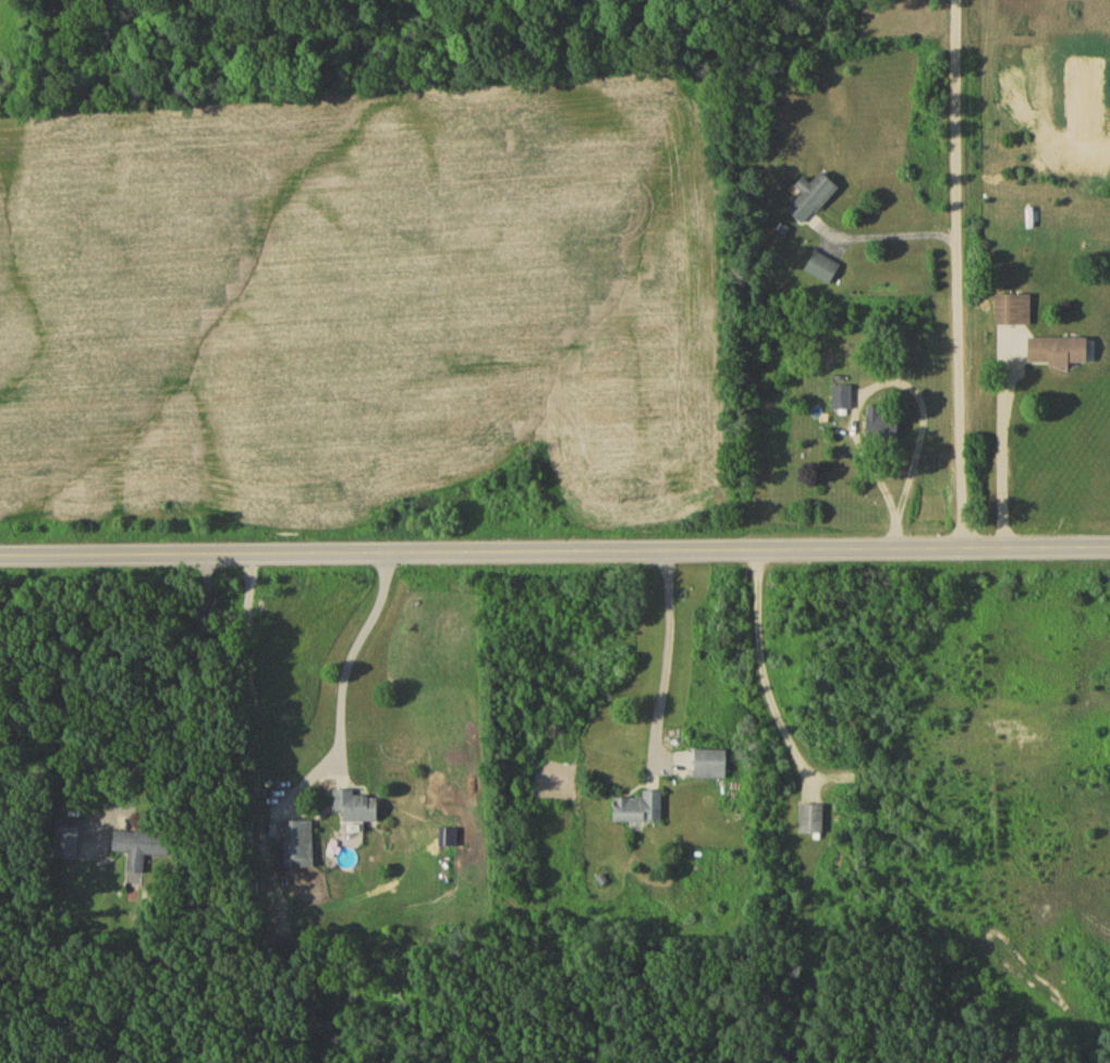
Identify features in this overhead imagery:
building: (814, 201)
road: (888, 237)
building: (824, 271)
road: (962, 276)
building: (1014, 311)
building: (1061, 354)
road: (901, 383)
building: (843, 400)
building: (883, 428)
road: (1001, 443)
road: (554, 554)
road: (351, 659)
road: (667, 659)
road: (764, 674)
road: (173, 680)
building: (712, 767)
building: (357, 809)
building: (639, 811)
building: (813, 822)
building: (300, 847)
building: (143, 851)

